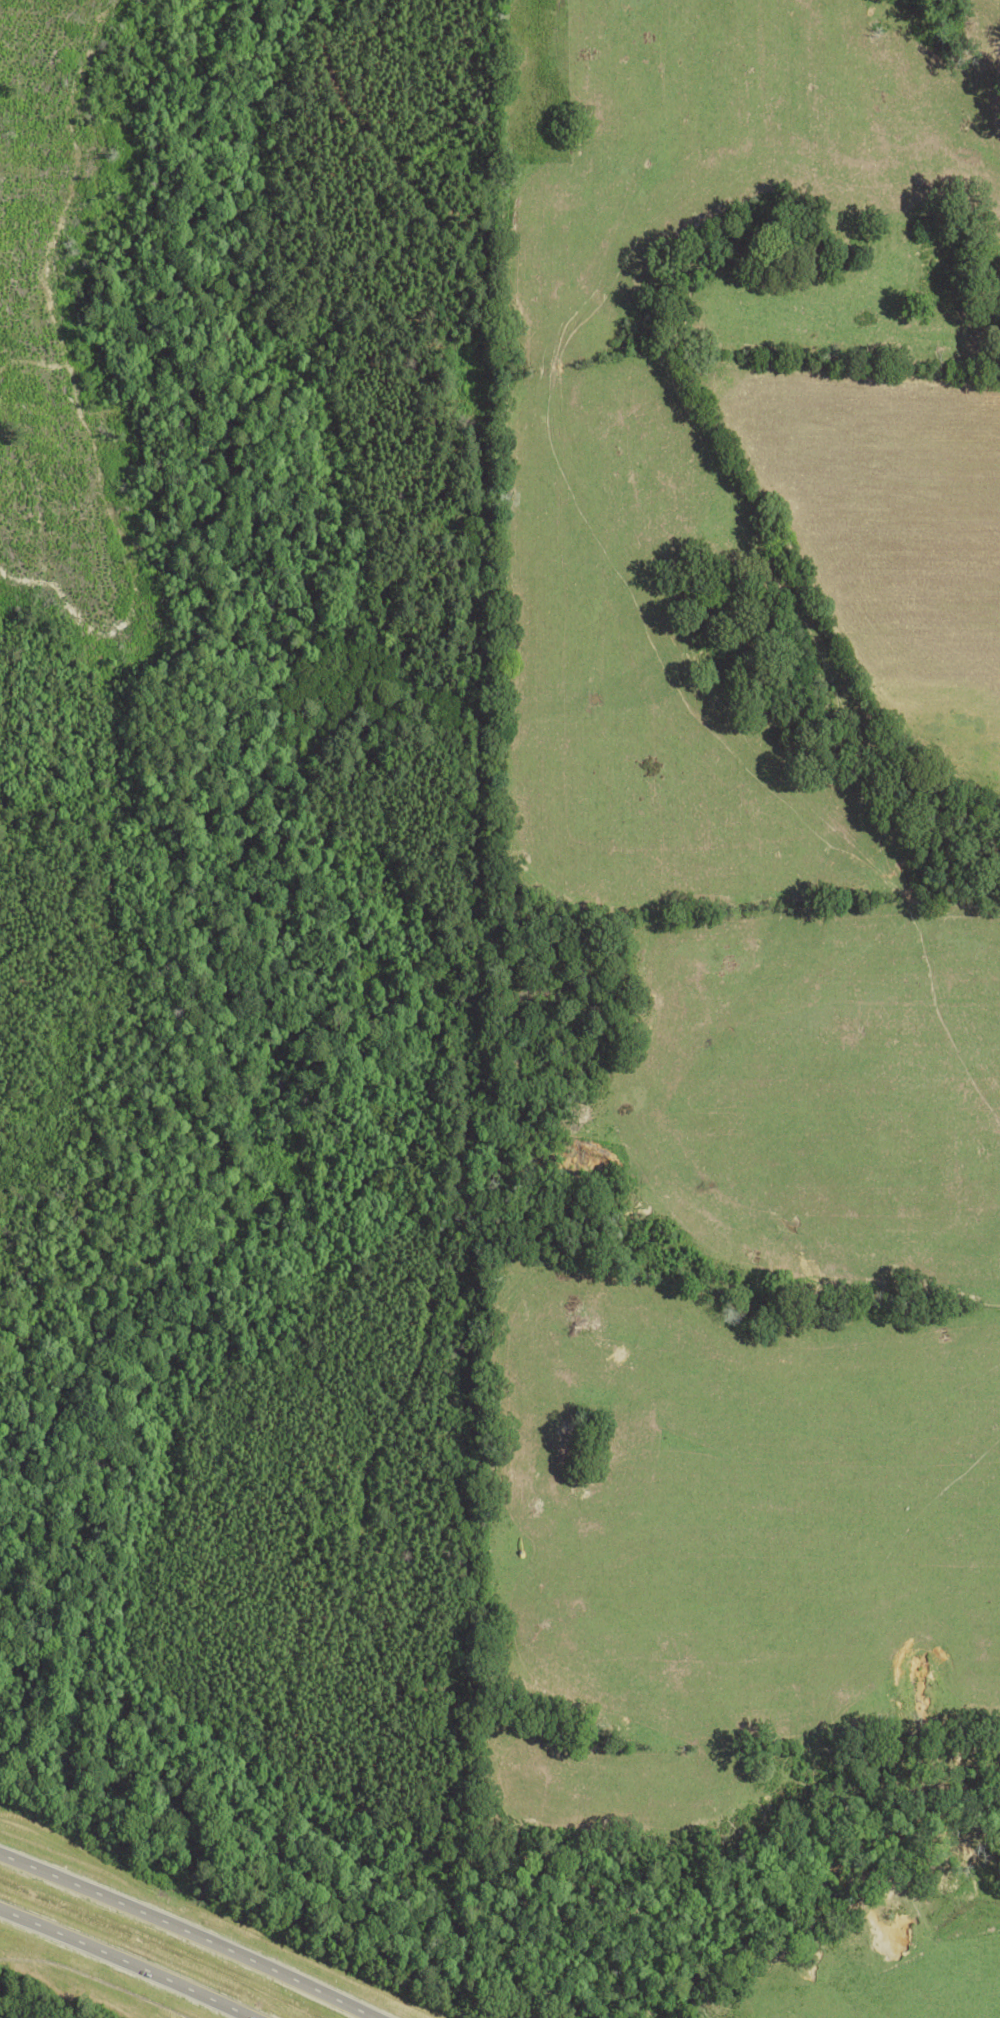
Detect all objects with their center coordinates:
road: (186, 1931)
road: (127, 1962)

